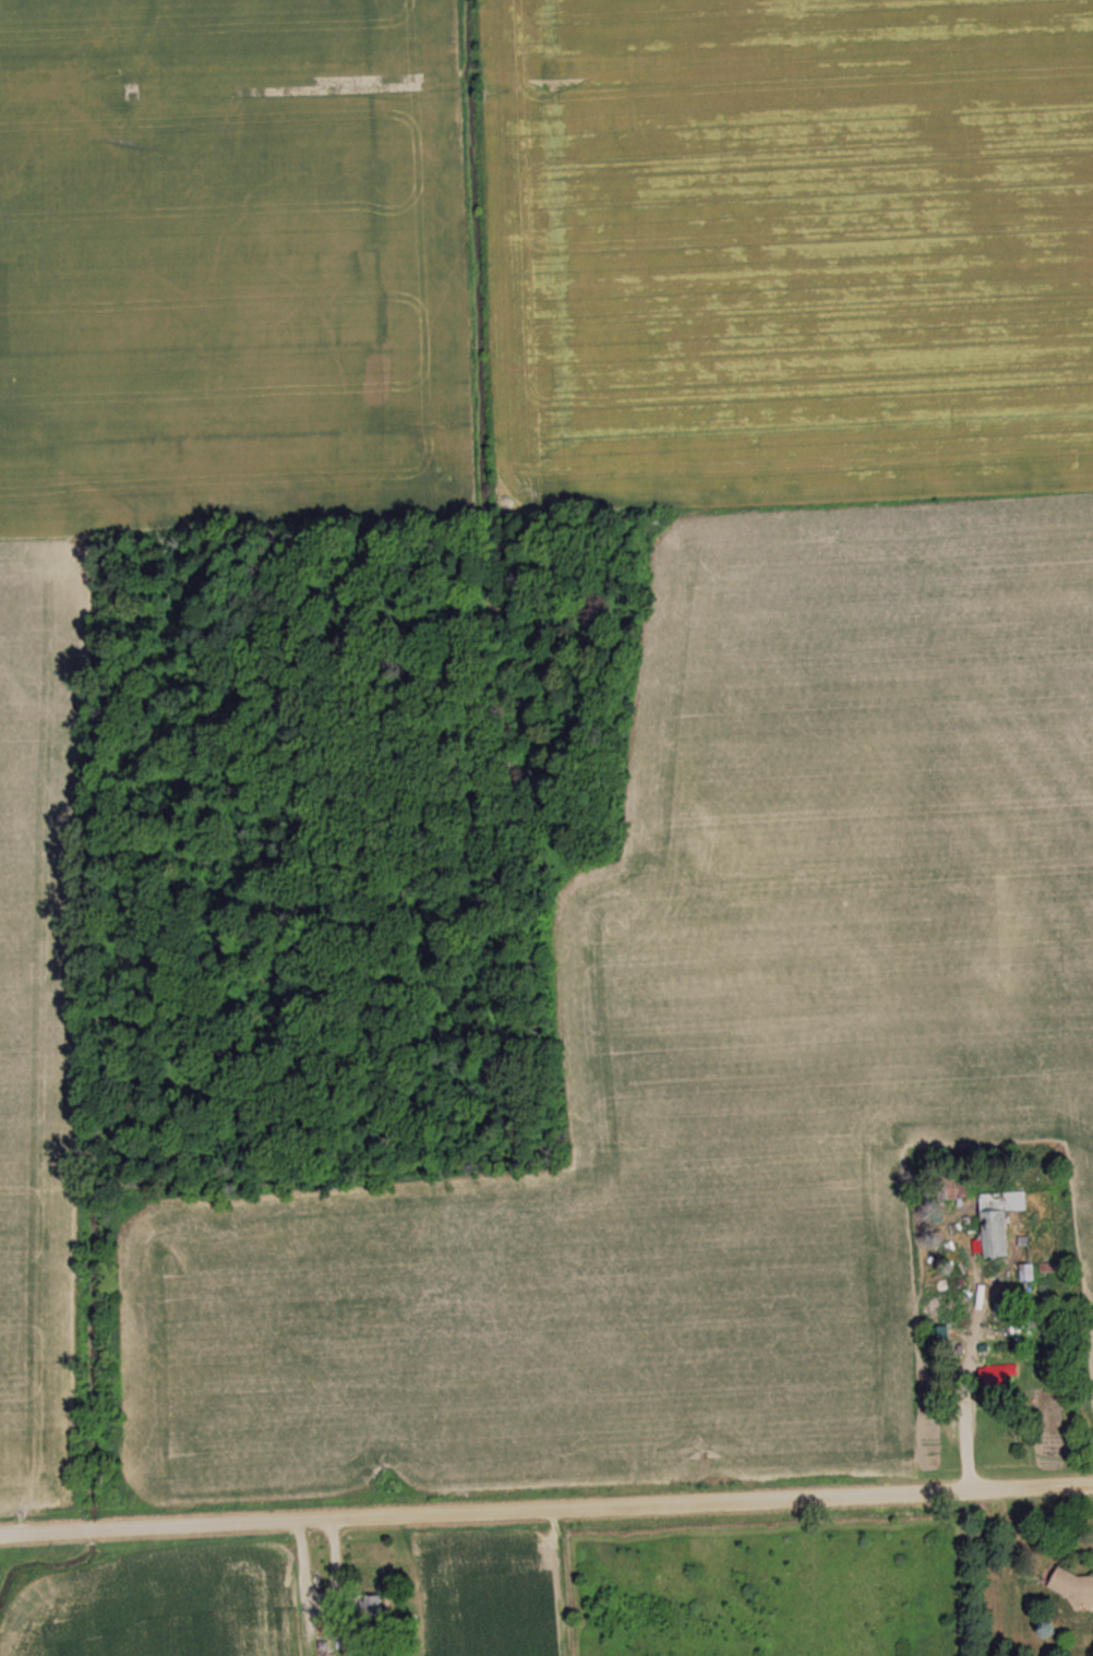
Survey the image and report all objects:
building: (994, 1220)
building: (999, 1375)
road: (546, 1505)
building: (1073, 1588)

